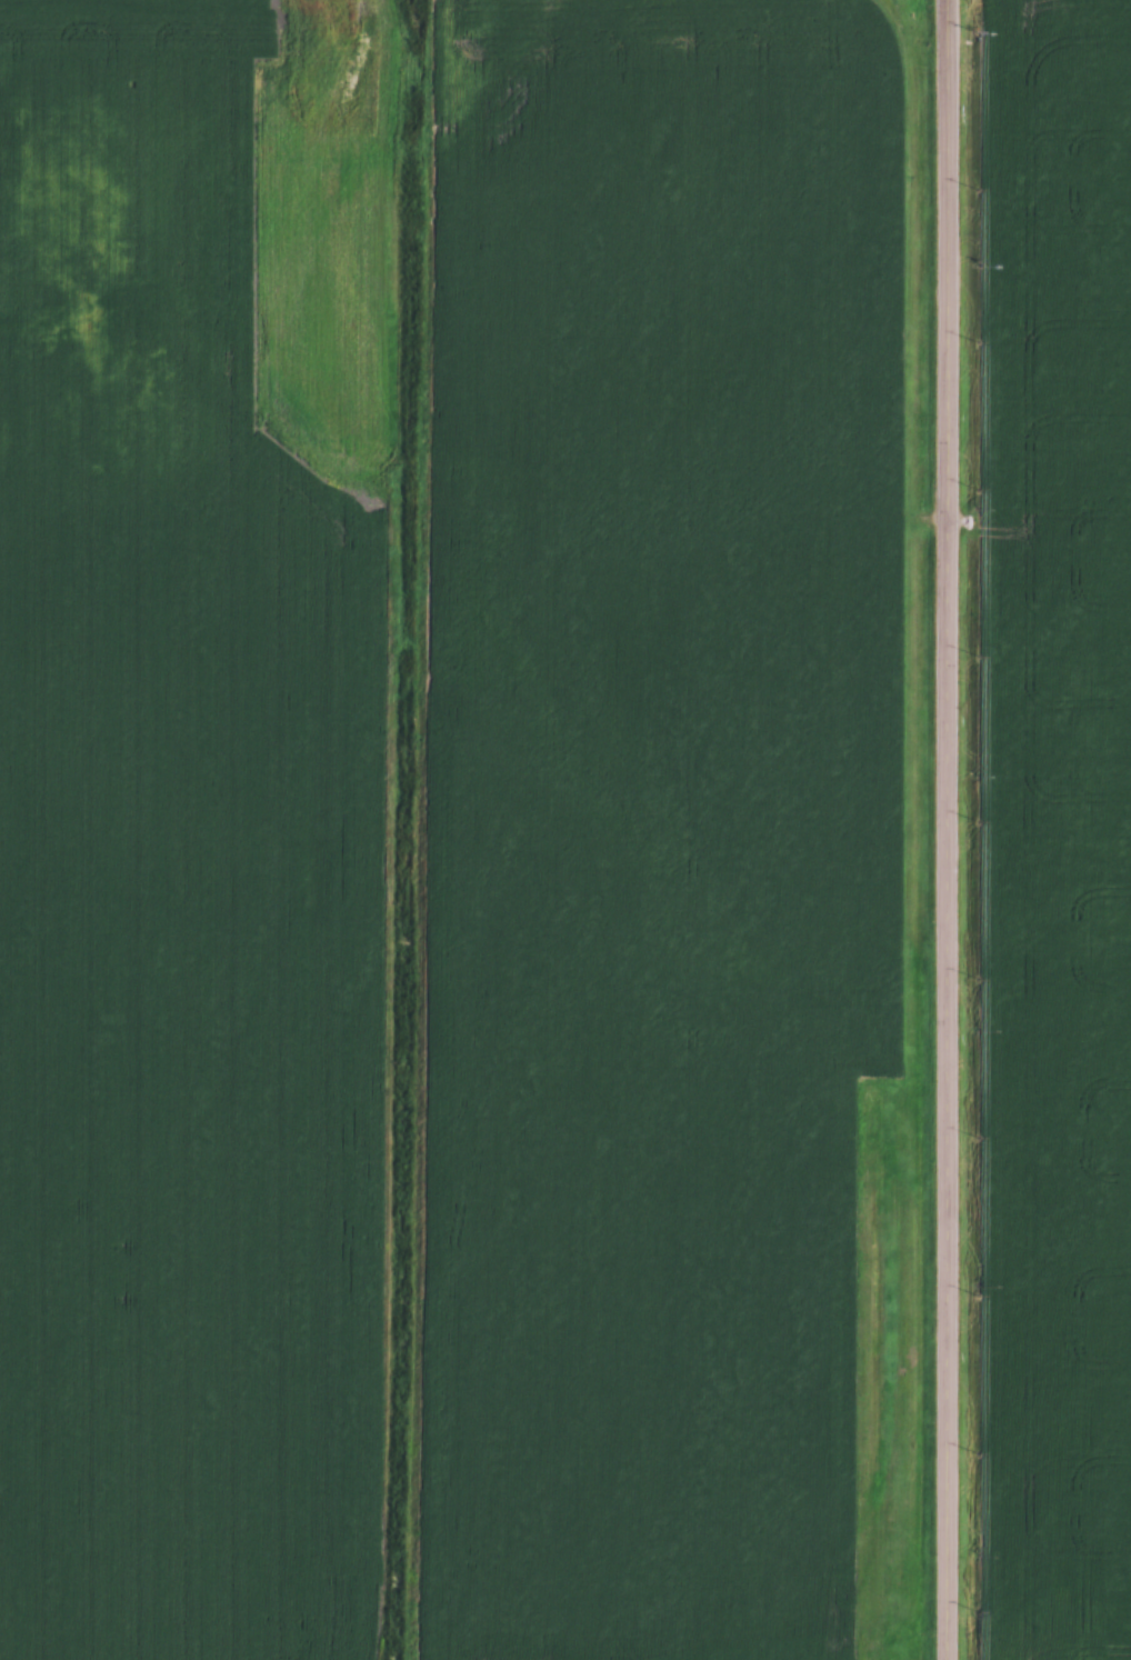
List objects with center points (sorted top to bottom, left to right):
road: (950, 830)

